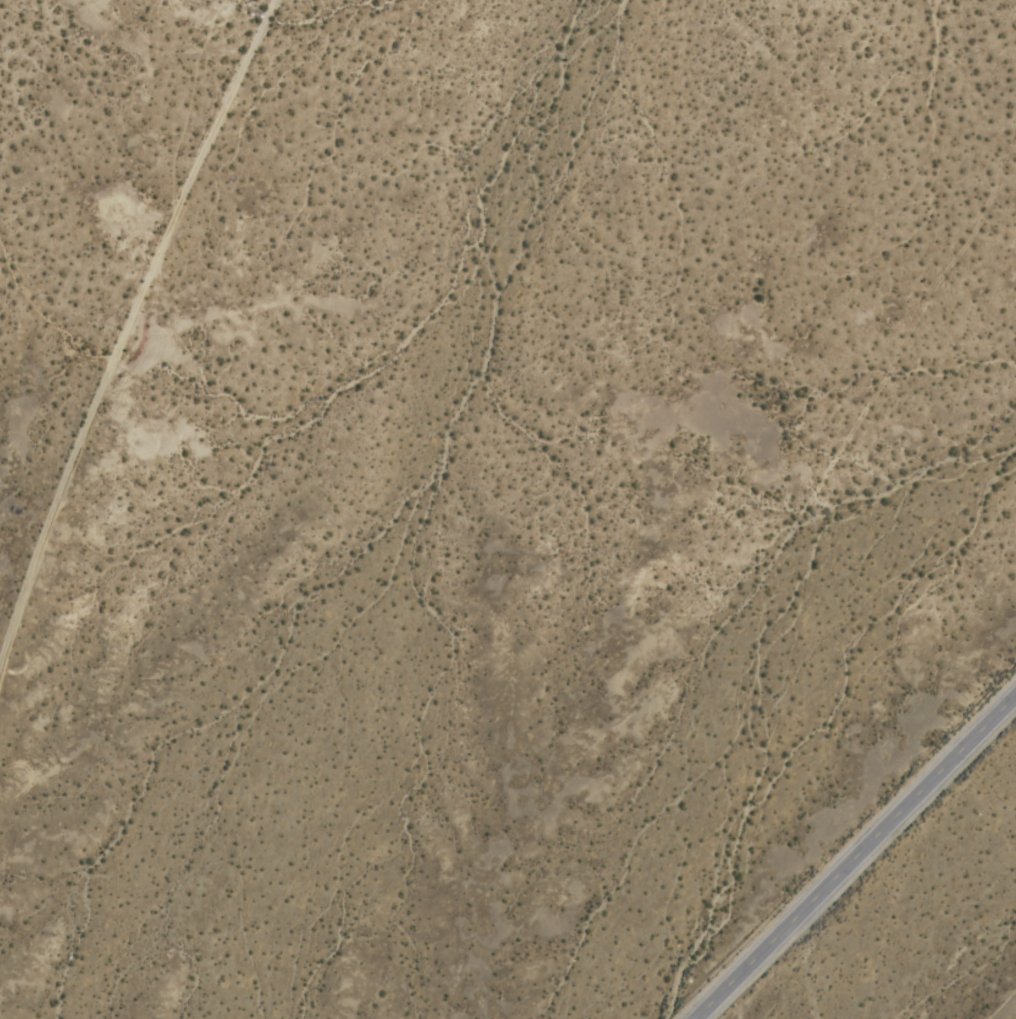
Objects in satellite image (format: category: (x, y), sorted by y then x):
road: (855, 855)

